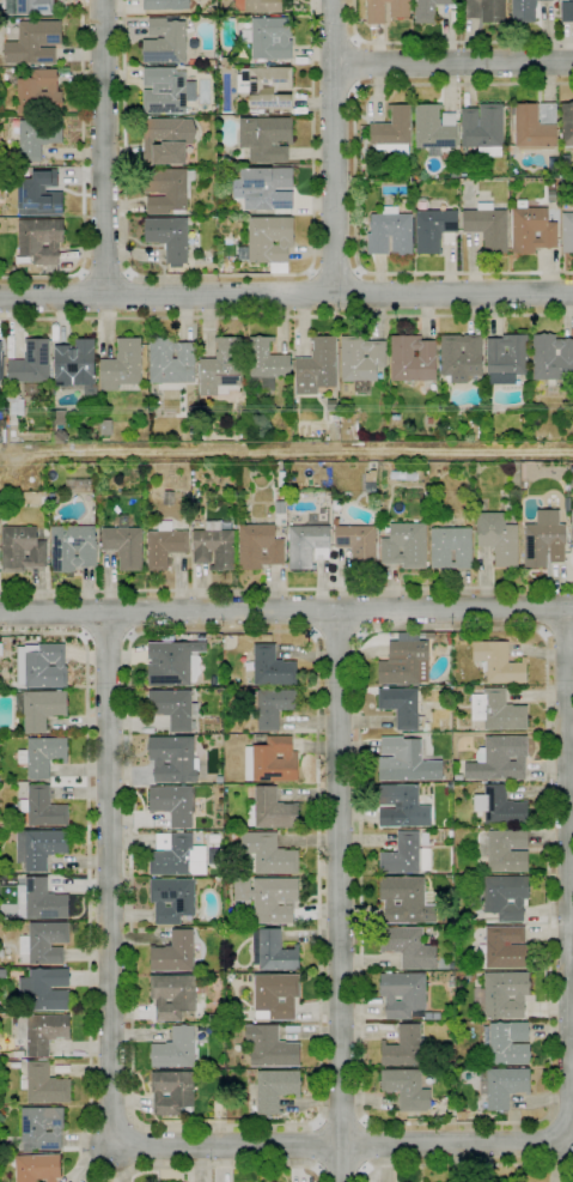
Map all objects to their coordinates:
building: (166, 5)
building: (262, 6)
building: (35, 7)
building: (400, 10)
building: (428, 10)
building: (484, 10)
building: (523, 10)
building: (213, 11)
building: (566, 11)
building: (272, 38)
building: (35, 42)
building: (164, 42)
road: (334, 42)
road: (445, 43)
building: (224, 61)
road: (453, 61)
building: (213, 62)
road: (358, 63)
building: (16, 71)
building: (266, 85)
road: (334, 86)
building: (164, 91)
building: (38, 93)
building: (566, 125)
building: (535, 126)
building: (435, 129)
building: (483, 129)
building: (394, 132)
building: (37, 138)
building: (266, 139)
building: (167, 140)
road: (334, 146)
road: (104, 147)
building: (566, 160)
building: (455, 172)
building: (464, 175)
road: (84, 177)
road: (354, 178)
building: (267, 188)
building: (167, 189)
building: (39, 193)
building: (220, 205)
building: (362, 219)
building: (488, 226)
building: (433, 229)
building: (532, 230)
building: (390, 232)
building: (567, 232)
building: (169, 237)
building: (41, 240)
building: (268, 241)
road: (335, 271)
road: (106, 273)
road: (219, 275)
road: (85, 295)
road: (370, 295)
road: (129, 296)
road: (286, 296)
road: (300, 296)
road: (286, 317)
building: (0, 354)
building: (461, 357)
building: (551, 357)
building: (361, 358)
building: (506, 358)
building: (412, 359)
building: (170, 362)
building: (31, 363)
building: (74, 363)
building: (266, 363)
building: (0, 365)
building: (122, 365)
building: (317, 366)
building: (220, 368)
building: (31, 390)
building: (53, 393)
building: (295, 400)
building: (17, 402)
building: (59, 417)
building: (341, 417)
building: (525, 419)
building: (474, 422)
building: (334, 424)
building: (105, 428)
building: (281, 479)
building: (79, 484)
building: (288, 485)
building: (279, 495)
building: (572, 497)
building: (169, 498)
building: (43, 499)
building: (280, 508)
building: (572, 528)
building: (499, 538)
building: (544, 540)
building: (124, 544)
building: (358, 544)
building: (164, 545)
building: (404, 545)
building: (213, 546)
building: (260, 546)
building: (309, 546)
building: (73, 547)
building: (451, 547)
building: (22, 550)
road: (286, 588)
road: (303, 610)
road: (547, 610)
road: (286, 611)
road: (358, 611)
road: (86, 612)
road: (127, 613)
road: (557, 634)
road: (337, 635)
road: (108, 637)
building: (217, 638)
building: (172, 662)
building: (403, 662)
building: (499, 662)
building: (41, 666)
building: (272, 667)
building: (5, 671)
building: (450, 692)
building: (270, 707)
building: (172, 708)
building: (403, 708)
building: (39, 709)
building: (498, 710)
building: (42, 756)
building: (172, 758)
building: (499, 759)
building: (272, 760)
building: (407, 762)
building: (458, 777)
building: (219, 780)
building: (450, 786)
building: (172, 805)
building: (43, 807)
building: (402, 807)
building: (500, 807)
building: (270, 810)
building: (2, 826)
building: (450, 834)
building: (1, 837)
building: (39, 848)
building: (505, 850)
building: (268, 854)
building: (177, 855)
building: (406, 855)
road: (568, 874)
road: (109, 878)
road: (340, 896)
building: (505, 897)
building: (269, 898)
building: (41, 901)
building: (172, 901)
building: (407, 901)
building: (462, 921)
building: (47, 942)
building: (408, 947)
building: (506, 948)
building: (273, 951)
building: (1, 952)
building: (175, 953)
building: (2, 974)
road: (90, 986)
building: (45, 989)
building: (403, 994)
building: (504, 995)
building: (173, 996)
building: (275, 996)
building: (449, 1017)
building: (42, 1031)
building: (508, 1043)
building: (270, 1047)
building: (403, 1047)
building: (175, 1049)
building: (12, 1065)
building: (44, 1085)
building: (501, 1086)
building: (275, 1090)
building: (407, 1090)
building: (171, 1092)
building: (461, 1115)
road: (545, 1117)
road: (317, 1119)
road: (341, 1120)
building: (42, 1127)
road: (317, 1145)
road: (341, 1145)
road: (366, 1145)
building: (4, 1148)
road: (464, 1164)
building: (37, 1168)
road: (342, 1170)

